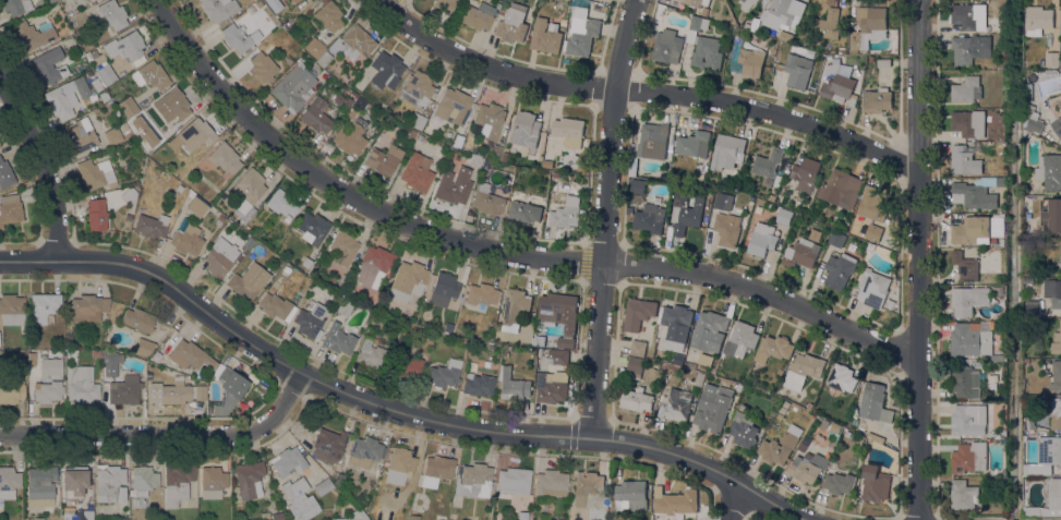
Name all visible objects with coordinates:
building: (50, 0)
building: (294, 1)
building: (309, 1)
road: (386, 1)
building: (696, 2)
building: (763, 2)
building: (747, 3)
building: (274, 4)
building: (15, 5)
building: (443, 5)
building: (218, 9)
building: (250, 9)
building: (501, 12)
building: (782, 13)
building: (112, 14)
building: (328, 15)
building: (474, 17)
building: (967, 17)
building: (1038, 21)
building: (563, 22)
building: (511, 24)
building: (1000, 24)
building: (827, 25)
building: (868, 27)
building: (1060, 27)
building: (33, 34)
building: (282, 36)
building: (581, 36)
building: (545, 37)
building: (785, 37)
building: (236, 38)
building: (357, 41)
building: (125, 46)
building: (703, 46)
building: (86, 47)
building: (314, 47)
building: (667, 47)
building: (969, 49)
building: (842, 50)
building: (93, 53)
building: (324, 59)
building: (871, 59)
building: (1051, 60)
building: (751, 62)
building: (884, 63)
building: (48, 65)
building: (263, 66)
building: (387, 66)
building: (798, 69)
building: (88, 73)
building: (106, 73)
building: (1050, 73)
building: (150, 75)
building: (1028, 75)
building: (837, 83)
building: (293, 86)
building: (417, 88)
road: (644, 90)
building: (966, 90)
building: (1027, 93)
building: (104, 96)
building: (67, 97)
building: (877, 100)
building: (348, 102)
building: (1, 104)
building: (108, 104)
building: (360, 104)
building: (453, 106)
building: (128, 107)
building: (382, 107)
building: (173, 108)
building: (387, 111)
building: (316, 116)
building: (378, 116)
building: (417, 120)
building: (1030, 120)
building: (487, 121)
building: (969, 124)
building: (1057, 126)
building: (526, 130)
building: (142, 131)
building: (568, 131)
building: (411, 133)
building: (80, 134)
building: (195, 134)
building: (1025, 134)
building: (112, 135)
building: (351, 136)
building: (419, 137)
building: (653, 141)
building: (692, 144)
building: (493, 152)
building: (727, 152)
building: (504, 157)
road: (43, 158)
building: (225, 158)
building: (477, 158)
building: (384, 160)
building: (964, 161)
building: (547, 164)
building: (632, 166)
building: (767, 166)
building: (417, 172)
building: (1049, 172)
building: (95, 173)
building: (5, 174)
building: (554, 174)
building: (806, 174)
building: (220, 183)
building: (454, 185)
building: (637, 186)
building: (179, 188)
building: (841, 190)
building: (248, 194)
building: (976, 194)
building: (129, 195)
building: (770, 198)
building: (486, 201)
building: (282, 204)
building: (872, 205)
building: (195, 206)
building: (10, 209)
building: (523, 213)
building: (565, 214)
building: (685, 214)
building: (96, 215)
building: (1050, 215)
building: (128, 217)
road: (607, 217)
building: (783, 217)
building: (998, 217)
building: (649, 218)
building: (219, 219)
building: (150, 226)
building: (996, 227)
building: (312, 228)
building: (726, 230)
building: (970, 230)
building: (873, 233)
building: (836, 239)
building: (186, 240)
building: (762, 240)
building: (249, 242)
building: (342, 246)
road: (501, 253)
building: (800, 254)
building: (220, 255)
road: (918, 259)
building: (306, 262)
building: (373, 267)
building: (965, 267)
building: (840, 269)
building: (284, 273)
building: (248, 281)
building: (341, 281)
building: (407, 281)
building: (275, 285)
building: (443, 289)
building: (872, 289)
building: (348, 291)
building: (1000, 292)
building: (481, 294)
building: (1057, 295)
building: (968, 300)
building: (890, 305)
building: (44, 306)
building: (276, 306)
building: (514, 306)
building: (88, 307)
building: (343, 307)
building: (1033, 309)
building: (12, 310)
building: (638, 314)
building: (59, 315)
building: (559, 315)
building: (310, 318)
building: (138, 319)
building: (676, 326)
building: (997, 326)
building: (710, 331)
building: (429, 335)
building: (68, 336)
building: (743, 338)
building: (338, 339)
building: (969, 340)
building: (538, 341)
building: (1057, 342)
building: (143, 347)
building: (638, 348)
building: (774, 349)
building: (95, 352)
building: (372, 354)
building: (190, 355)
building: (556, 358)
building: (111, 359)
building: (996, 359)
building: (678, 360)
building: (706, 360)
building: (690, 365)
building: (408, 366)
building: (635, 367)
building: (674, 368)
building: (803, 371)
building: (780, 372)
building: (444, 374)
building: (1056, 376)
building: (842, 378)
building: (993, 378)
building: (148, 384)
building: (478, 384)
building: (965, 384)
building: (81, 385)
building: (511, 386)
building: (552, 387)
building: (740, 388)
building: (47, 389)
building: (228, 389)
building: (124, 390)
building: (174, 392)
building: (200, 392)
building: (11, 394)
building: (636, 400)
building: (875, 403)
building: (786, 404)
building: (677, 406)
road: (394, 408)
building: (208, 410)
building: (783, 410)
building: (712, 413)
building: (1056, 414)
building: (780, 416)
building: (968, 420)
building: (1029, 426)
building: (835, 428)
building: (744, 430)
road: (166, 433)
building: (847, 434)
building: (875, 437)
building: (860, 439)
building: (781, 446)
building: (329, 447)
building: (363, 451)
building: (1045, 457)
building: (969, 458)
building: (288, 462)
building: (399, 464)
building: (436, 470)
building: (805, 472)
building: (1003, 473)
building: (143, 480)
building: (249, 480)
building: (473, 480)
building: (212, 481)
building: (514, 481)
building: (9, 482)
building: (74, 483)
building: (109, 483)
building: (177, 483)
building: (551, 483)
building: (840, 484)
building: (876, 484)
building: (40, 486)
building: (586, 486)
building: (323, 487)
building: (632, 495)
building: (963, 495)
building: (299, 499)
building: (1048, 501)
road: (738, 503)
building: (671, 504)
building: (338, 510)
building: (486, 513)
building: (76, 515)
building: (264, 515)
building: (276, 516)
building: (353, 516)
building: (413, 517)
building: (439, 518)
building: (28, 519)

